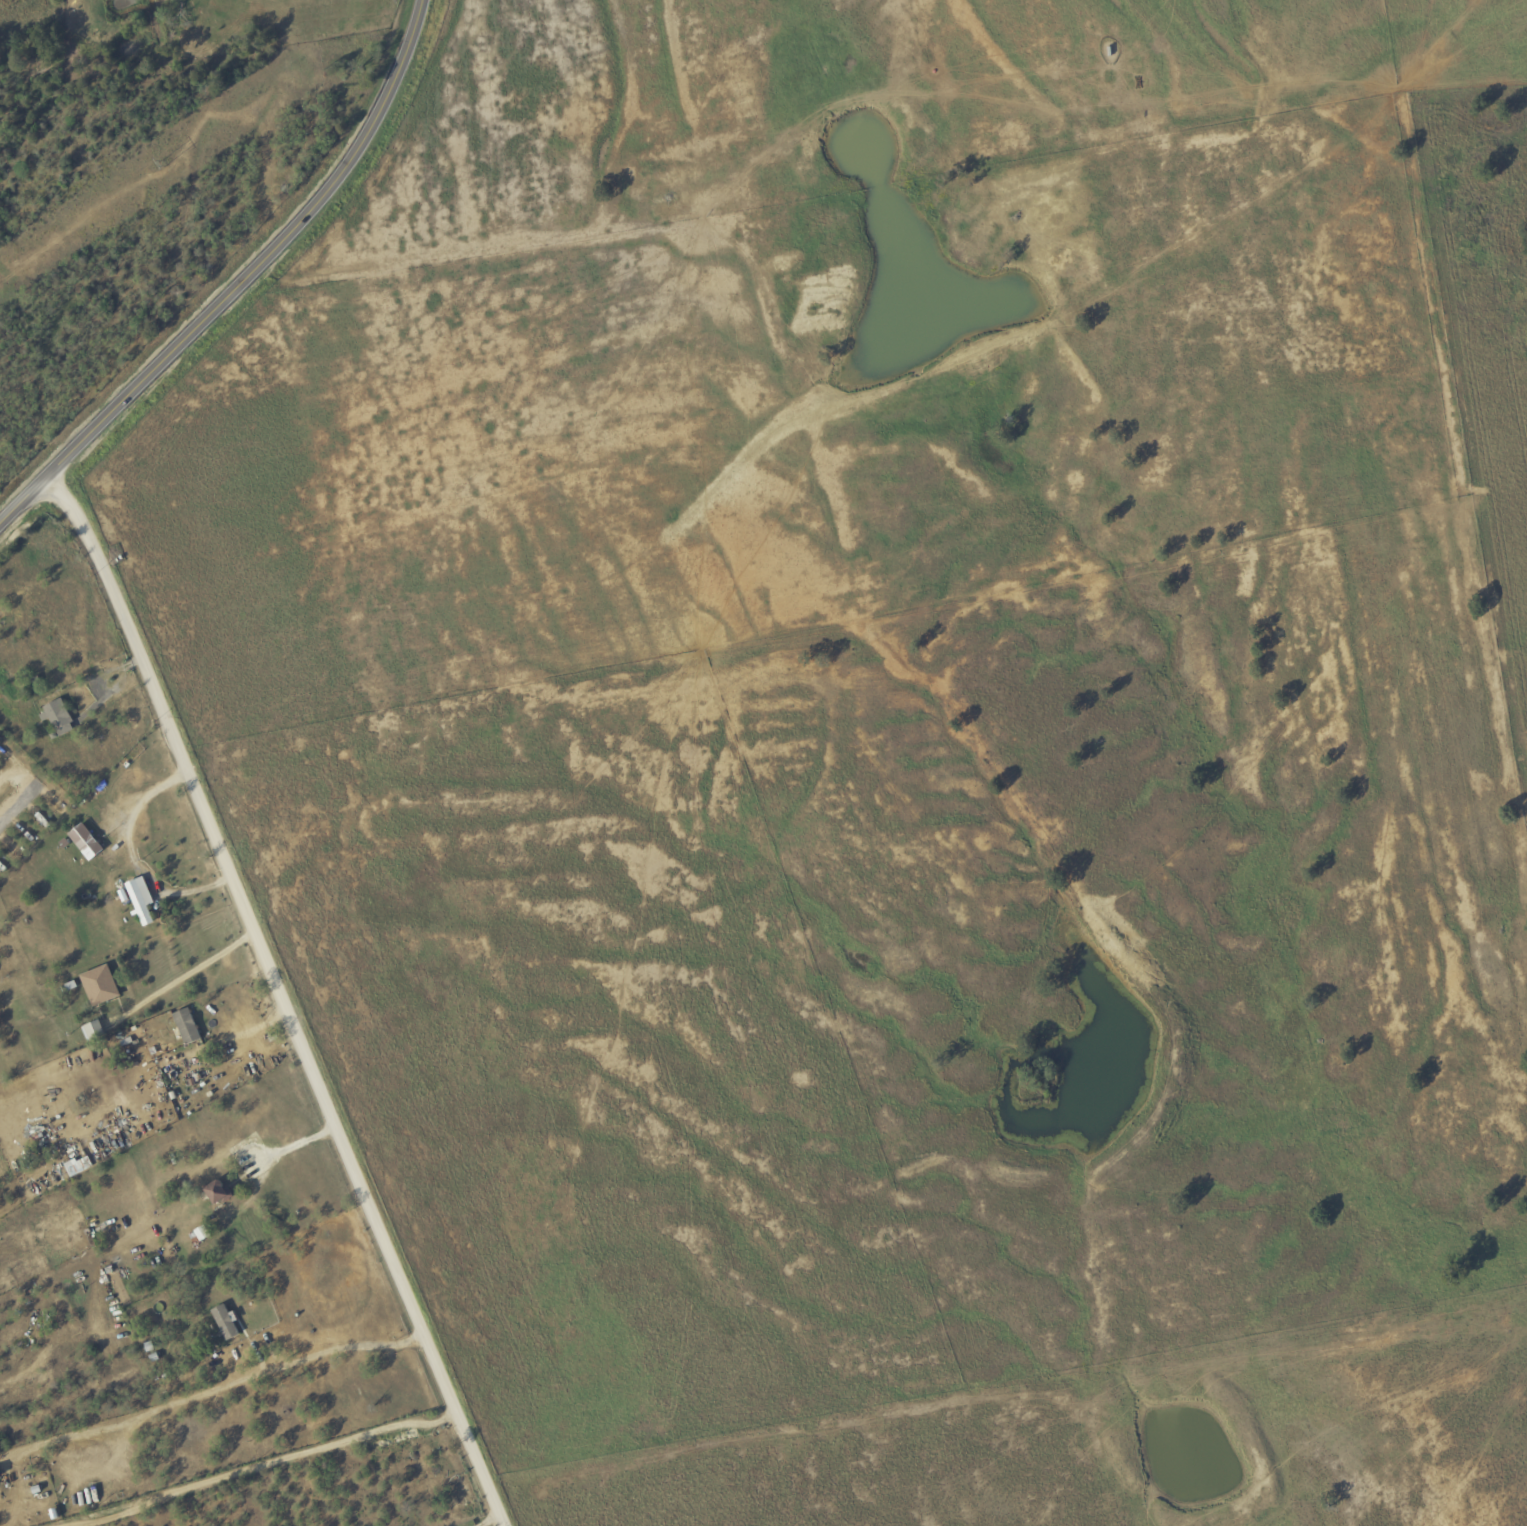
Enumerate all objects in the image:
power tower: (162, 163)
road: (434, 268)
road: (240, 281)
building: (59, 716)
road: (17, 803)
building: (85, 841)
road: (140, 856)
building: (141, 899)
road: (181, 980)
building: (99, 985)
road: (278, 998)
building: (186, 1026)
building: (93, 1031)
road: (266, 1159)
building: (79, 1165)
building: (217, 1193)
building: (202, 1233)
building: (226, 1322)
road: (211, 1391)
road: (266, 1465)
road: (494, 1524)

